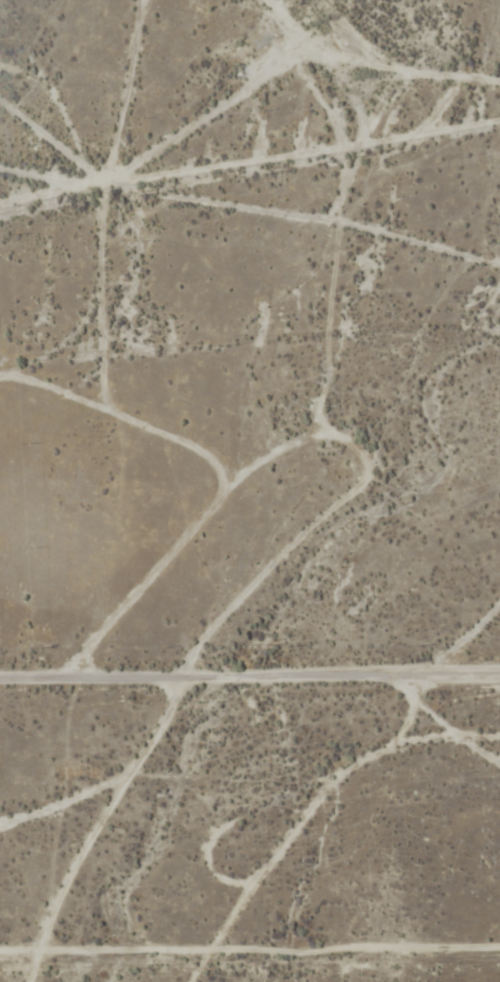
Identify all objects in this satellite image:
road: (249, 707)

